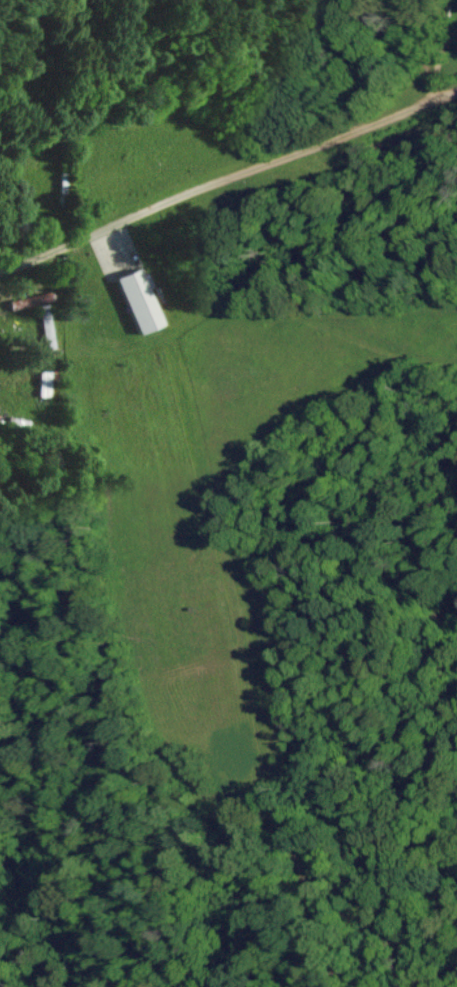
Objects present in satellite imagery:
road: (227, 160)
building: (135, 300)

